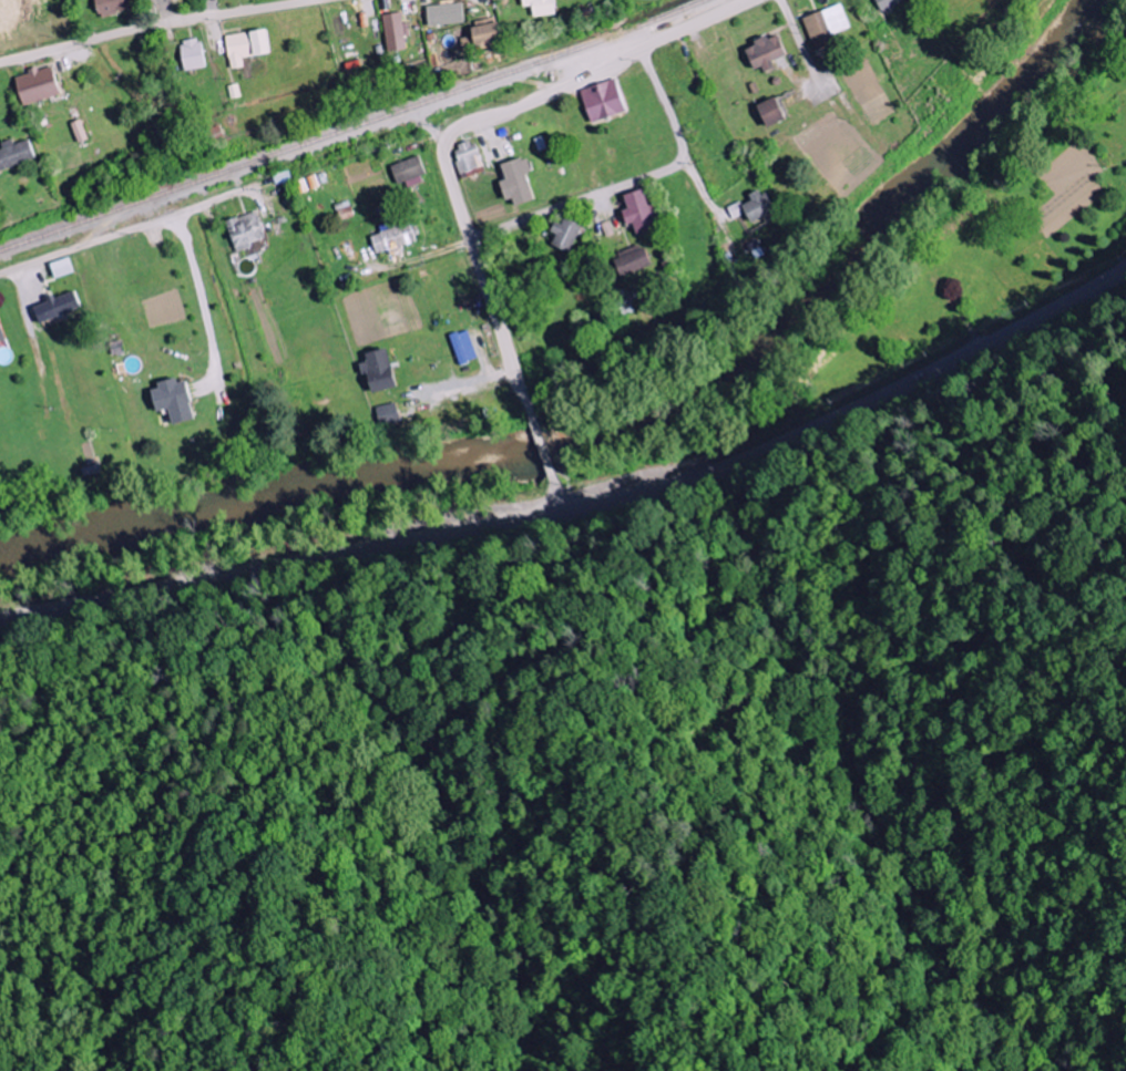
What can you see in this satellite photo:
building: (498, 0)
building: (893, 4)
building: (113, 7)
building: (541, 8)
building: (446, 14)
road: (153, 24)
building: (829, 25)
building: (395, 33)
building: (484, 35)
building: (262, 44)
road: (801, 45)
building: (238, 50)
building: (768, 54)
building: (193, 55)
building: (446, 61)
building: (38, 86)
building: (604, 102)
building: (774, 113)
railway: (351, 123)
road: (458, 130)
building: (80, 132)
building: (16, 155)
building: (468, 159)
building: (409, 171)
building: (283, 178)
road: (633, 182)
building: (519, 183)
building: (760, 207)
building: (643, 214)
road: (24, 220)
building: (247, 231)
building: (569, 236)
building: (396, 238)
road: (94, 241)
building: (633, 261)
building: (63, 269)
building: (625, 302)
building: (59, 308)
building: (2, 333)
building: (464, 347)
building: (381, 370)
building: (175, 400)
road: (851, 409)
building: (388, 415)
river: (627, 429)
road: (280, 567)

